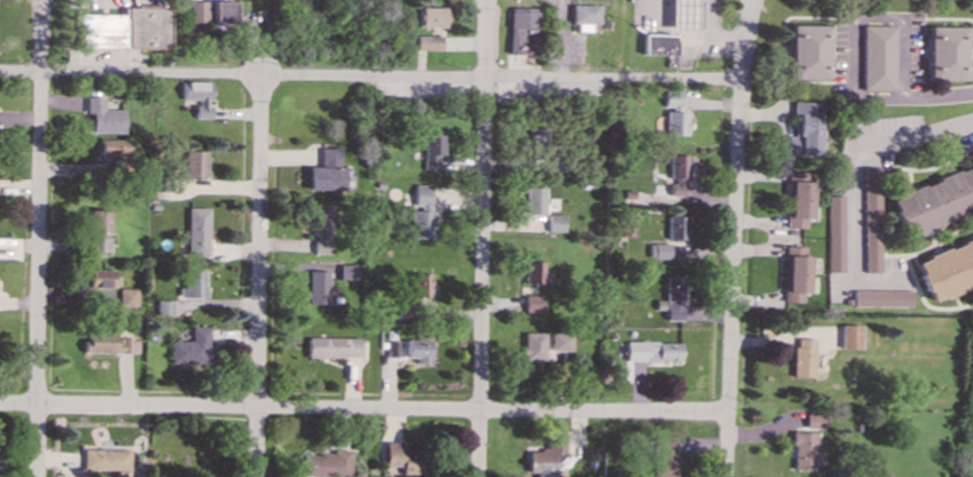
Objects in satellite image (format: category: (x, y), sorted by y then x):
building: (196, 11)
building: (222, 11)
building: (684, 14)
building: (430, 16)
building: (583, 16)
building: (522, 17)
road: (857, 22)
building: (124, 28)
building: (522, 40)
building: (428, 42)
building: (659, 44)
building: (807, 51)
building: (945, 52)
building: (877, 57)
road: (369, 77)
road: (937, 95)
building: (199, 97)
building: (671, 98)
building: (103, 116)
building: (676, 123)
building: (805, 130)
building: (536, 136)
building: (432, 150)
building: (115, 151)
building: (560, 161)
building: (195, 163)
building: (328, 171)
building: (677, 173)
road: (859, 175)
building: (422, 196)
building: (799, 198)
building: (533, 200)
building: (934, 201)
building: (99, 219)
building: (871, 219)
building: (554, 223)
building: (421, 224)
building: (321, 227)
building: (676, 227)
building: (197, 231)
building: (835, 233)
road: (38, 238)
road: (482, 238)
road: (733, 238)
building: (101, 244)
building: (659, 250)
building: (947, 270)
building: (347, 271)
building: (534, 272)
building: (795, 274)
road: (259, 276)
building: (100, 278)
building: (193, 284)
building: (421, 284)
building: (317, 287)
building: (127, 297)
building: (673, 298)
building: (882, 298)
building: (533, 303)
building: (164, 307)
building: (850, 336)
building: (108, 342)
building: (543, 345)
building: (192, 347)
building: (334, 347)
building: (392, 349)
building: (419, 350)
building: (652, 351)
building: (803, 357)
road: (364, 409)
building: (816, 420)
building: (804, 450)
building: (403, 457)
building: (546, 458)
building: (665, 458)
building: (105, 459)
building: (327, 463)

